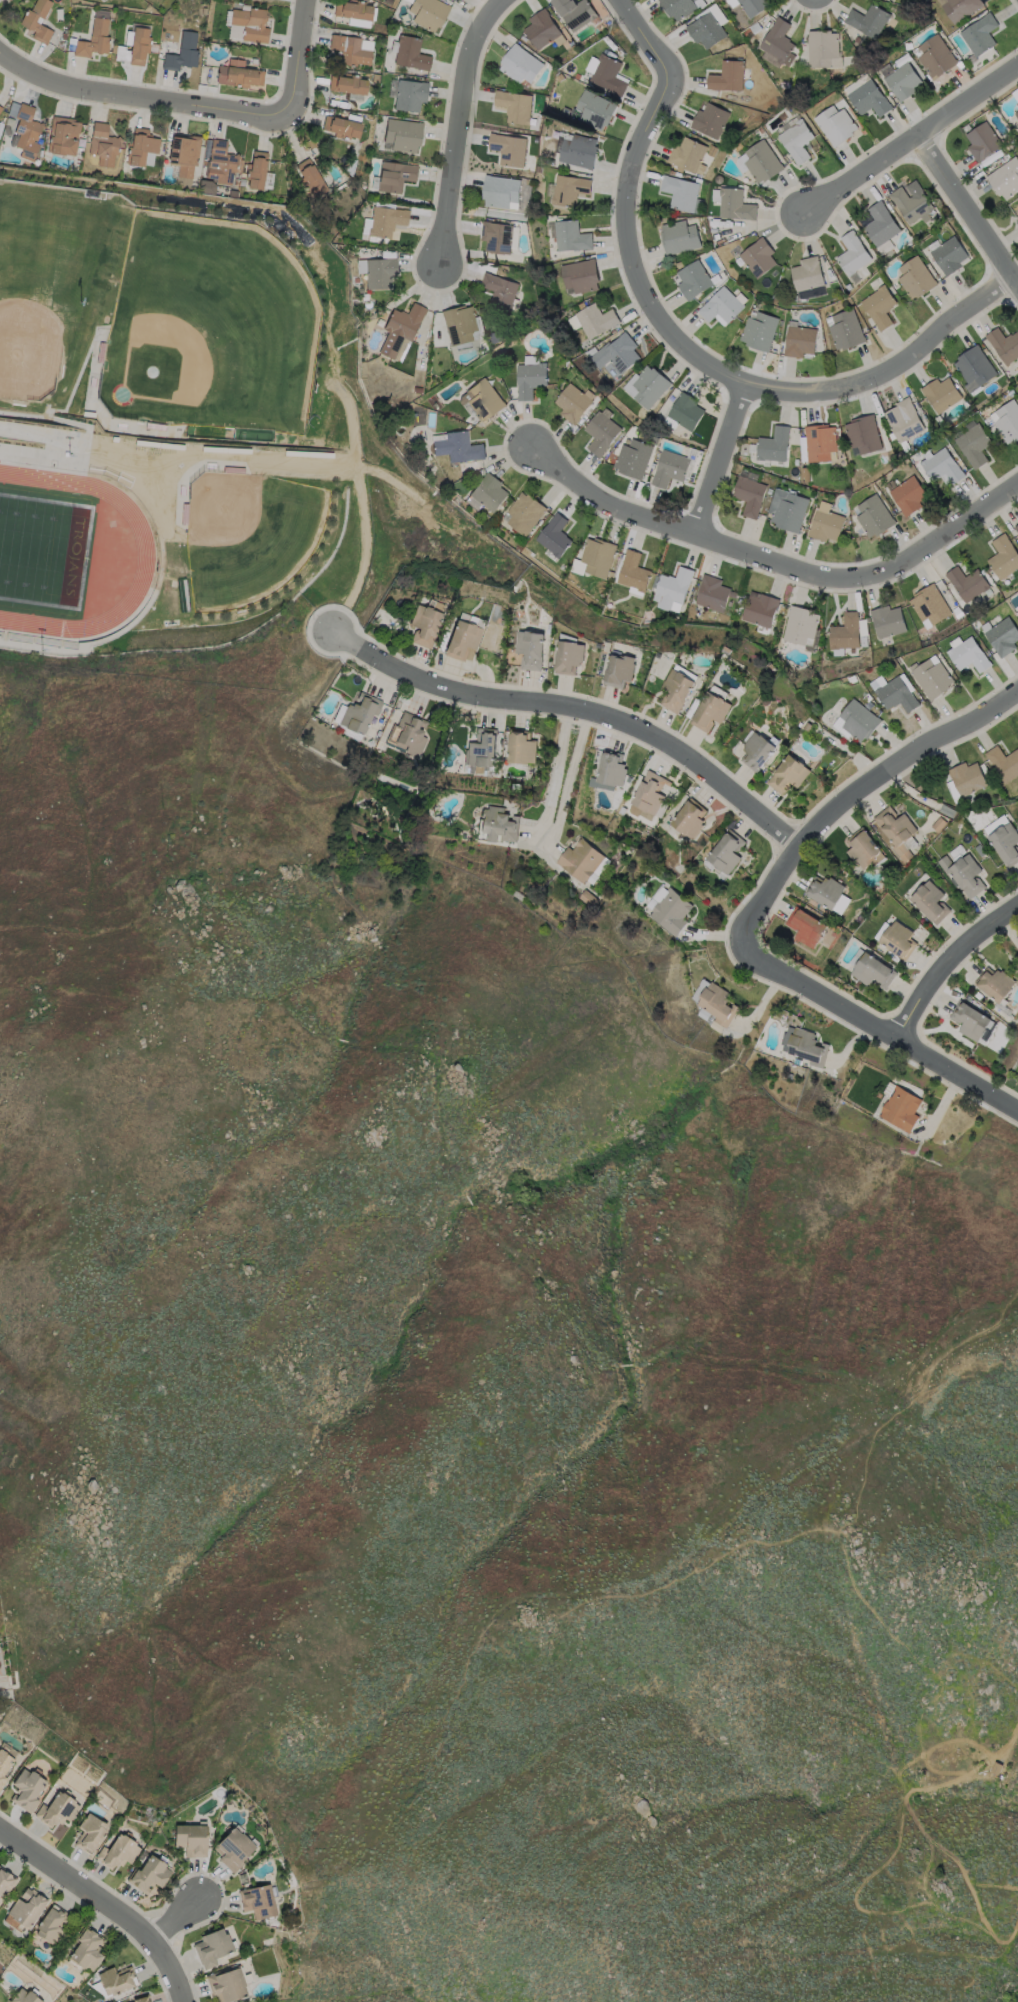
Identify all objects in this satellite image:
building: (102, 0)
building: (753, 7)
building: (679, 8)
building: (961, 9)
building: (204, 11)
building: (354, 11)
building: (576, 13)
building: (429, 14)
building: (869, 21)
building: (29, 24)
building: (252, 25)
building: (755, 29)
building: (542, 30)
building: (707, 31)
building: (981, 35)
road: (646, 36)
building: (64, 37)
building: (524, 39)
building: (609, 39)
building: (752, 40)
building: (94, 41)
building: (778, 42)
building: (859, 42)
building: (62, 46)
building: (140, 47)
building: (822, 49)
building: (351, 51)
building: (122, 53)
building: (183, 54)
building: (411, 54)
building: (794, 56)
building: (937, 58)
building: (521, 66)
building: (239, 75)
building: (609, 76)
building: (728, 77)
building: (561, 78)
building: (377, 79)
building: (904, 82)
building: (348, 85)
building: (1015, 94)
building: (411, 96)
building: (870, 100)
road: (199, 102)
building: (338, 103)
building: (0, 108)
building: (515, 108)
building: (1, 110)
building: (596, 111)
building: (566, 113)
building: (1017, 115)
building: (10, 121)
building: (710, 121)
road: (456, 126)
building: (837, 126)
building: (342, 128)
building: (967, 129)
building: (28, 133)
building: (403, 135)
building: (556, 135)
building: (64, 137)
building: (798, 142)
building: (983, 142)
road: (912, 143)
building: (81, 144)
building: (104, 146)
building: (142, 147)
building: (509, 150)
building: (579, 152)
building: (688, 155)
building: (185, 158)
building: (550, 163)
building: (763, 163)
building: (223, 164)
building: (204, 169)
building: (126, 170)
building: (257, 171)
building: (538, 171)
building: (396, 177)
building: (312, 179)
building: (1006, 180)
building: (238, 183)
building: (243, 183)
building: (208, 188)
building: (569, 190)
building: (501, 192)
building: (680, 194)
building: (528, 198)
building: (911, 205)
building: (735, 206)
building: (892, 206)
road: (967, 218)
building: (1017, 220)
building: (387, 222)
building: (881, 225)
building: (497, 238)
building: (571, 238)
building: (679, 238)
building: (853, 255)
building: (950, 256)
building: (758, 258)
building: (381, 274)
building: (807, 275)
building: (831, 276)
building: (580, 277)
building: (916, 279)
building: (694, 281)
park: (51, 284)
building: (848, 287)
building: (361, 291)
building: (500, 292)
building: (777, 296)
building: (794, 299)
building: (580, 306)
building: (722, 307)
building: (880, 308)
building: (596, 322)
building: (460, 325)
building: (401, 330)
building: (846, 331)
building: (760, 332)
building: (496, 337)
building: (800, 342)
building: (1004, 346)
building: (590, 352)
building: (617, 354)
park: (166, 358)
building: (449, 362)
building: (975, 367)
road: (714, 368)
building: (421, 373)
building: (498, 378)
building: (530, 380)
building: (650, 387)
building: (418, 391)
building: (942, 395)
building: (484, 401)
building: (573, 405)
building: (686, 412)
building: (414, 416)
building: (904, 421)
building: (941, 422)
building: (1008, 422)
building: (602, 434)
building: (864, 435)
building: (656, 441)
building: (820, 444)
building: (774, 446)
building: (975, 446)
building: (458, 448)
building: (884, 459)
building: (635, 460)
building: (653, 466)
road: (717, 467)
building: (943, 468)
building: (671, 470)
building: (806, 475)
building: (427, 479)
building: (489, 494)
building: (750, 496)
building: (909, 496)
building: (787, 510)
building: (523, 513)
building: (874, 516)
building: (825, 525)
building: (1016, 528)
park: (256, 535)
building: (553, 535)
park: (43, 549)
track: (145, 550)
track: (62, 551)
track: (68, 552)
building: (596, 556)
building: (1003, 557)
building: (576, 566)
road: (774, 569)
building: (632, 571)
building: (967, 583)
building: (671, 588)
building: (712, 593)
building: (929, 606)
building: (1017, 607)
building: (759, 609)
building: (886, 620)
building: (424, 624)
building: (799, 624)
building: (844, 632)
building: (1003, 636)
building: (461, 639)
building: (529, 649)
building: (968, 655)
building: (568, 657)
building: (619, 670)
building: (932, 678)
building: (676, 690)
building: (897, 695)
road: (574, 704)
building: (710, 711)
building: (359, 713)
building: (859, 720)
building: (1017, 733)
building: (410, 734)
building: (520, 747)
building: (482, 748)
building: (757, 751)
building: (1003, 762)
building: (610, 768)
road: (555, 771)
building: (788, 774)
building: (966, 778)
building: (649, 793)
road: (853, 795)
building: (688, 819)
building: (497, 823)
building: (895, 829)
building: (1006, 843)
building: (861, 848)
building: (725, 852)
building: (580, 860)
building: (598, 870)
building: (963, 873)
building: (824, 891)
building: (652, 900)
building: (929, 901)
building: (669, 911)
building: (804, 926)
building: (898, 939)
road: (945, 958)
building: (872, 971)
building: (994, 984)
building: (716, 1004)
building: (969, 1020)
road: (884, 1025)
building: (807, 1047)
building: (864, 1075)
building: (900, 1109)
building: (5, 1765)
building: (29, 1788)
building: (59, 1809)
building: (92, 1832)
building: (194, 1837)
building: (236, 1847)
building: (120, 1851)
building: (150, 1874)
building: (5, 1882)
building: (261, 1899)
road: (107, 1903)
building: (26, 1909)
road: (178, 1921)
building: (55, 1924)
building: (215, 1947)
building: (89, 1949)
building: (118, 1979)
building: (230, 1983)
building: (26, 1996)
building: (143, 1998)

